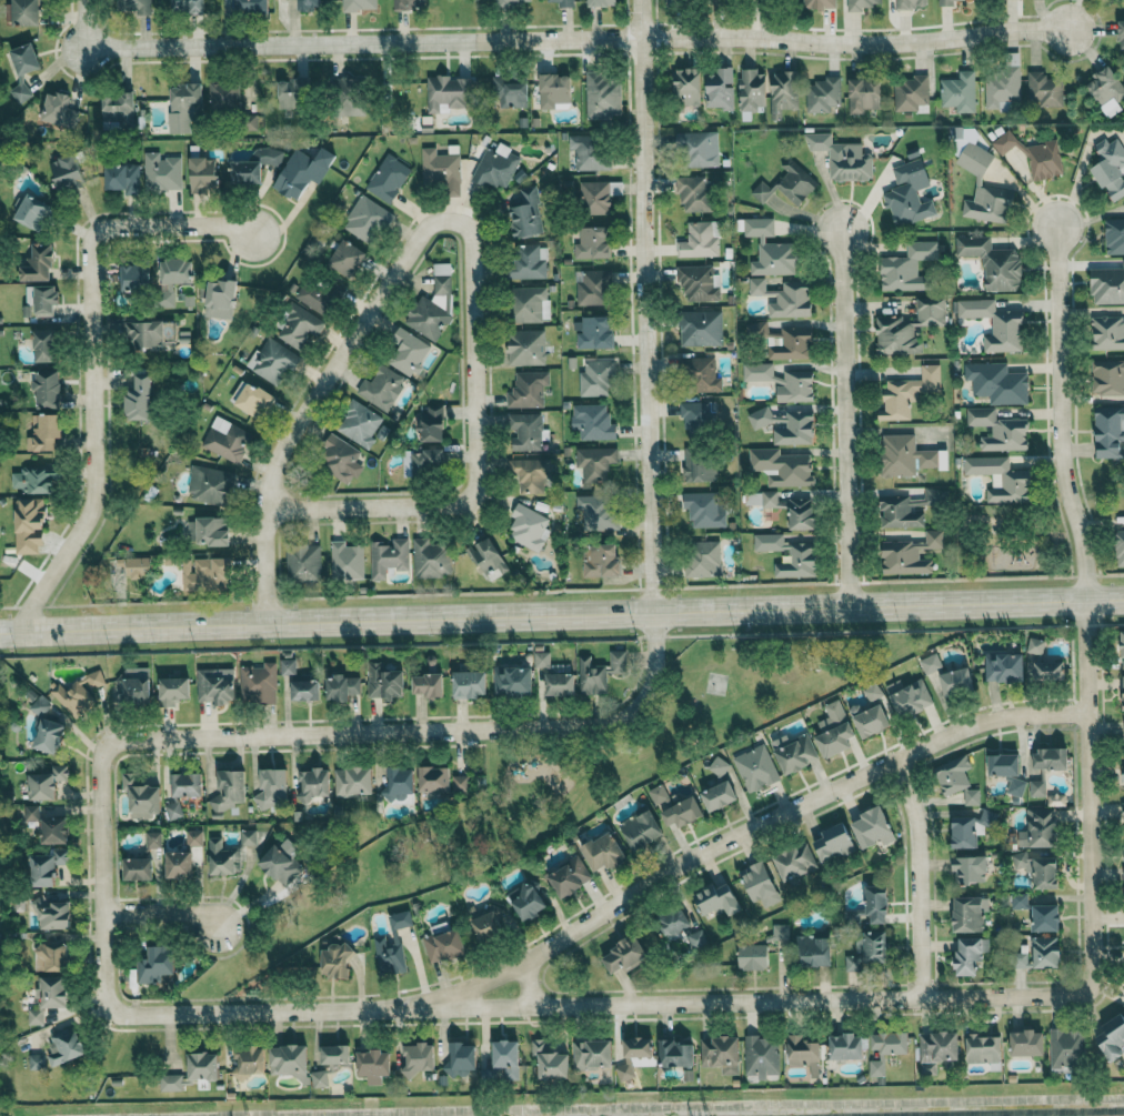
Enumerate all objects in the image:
building: (512, 2)
building: (602, 2)
building: (947, 2)
building: (410, 3)
building: (564, 3)
building: (911, 3)
building: (309, 4)
building: (359, 4)
building: (819, 4)
building: (188, 6)
building: (139, 7)
building: (252, 7)
building: (24, 12)
road: (83, 23)
building: (1121, 36)
road: (576, 39)
building: (24, 58)
building: (686, 86)
building: (1002, 87)
building: (720, 88)
building: (1043, 89)
building: (555, 90)
building: (752, 90)
building: (20, 91)
building: (957, 91)
building: (448, 92)
building: (509, 92)
building: (783, 92)
building: (911, 93)
building: (225, 94)
building: (349, 94)
building: (823, 94)
building: (863, 94)
building: (602, 95)
building: (183, 104)
building: (59, 110)
building: (118, 110)
building: (699, 149)
building: (591, 152)
building: (1033, 155)
building: (843, 157)
building: (254, 164)
building: (496, 167)
building: (1110, 167)
building: (442, 168)
building: (67, 171)
building: (302, 171)
building: (161, 172)
building: (203, 173)
building: (122, 175)
building: (388, 178)
building: (789, 184)
building: (983, 187)
building: (692, 192)
building: (909, 193)
building: (594, 197)
building: (31, 210)
building: (525, 212)
building: (367, 218)
building: (1115, 235)
building: (700, 239)
building: (592, 241)
building: (770, 249)
building: (347, 257)
building: (526, 261)
building: (993, 262)
building: (38, 263)
building: (906, 265)
building: (177, 270)
building: (132, 275)
building: (698, 282)
building: (1107, 284)
building: (590, 286)
building: (221, 291)
building: (318, 293)
building: (784, 296)
building: (42, 298)
building: (433, 302)
building: (528, 303)
road: (646, 308)
building: (995, 324)
building: (299, 325)
building: (909, 326)
building: (701, 328)
building: (759, 328)
building: (593, 331)
building: (1107, 332)
building: (144, 333)
building: (790, 343)
building: (44, 344)
building: (525, 346)
building: (407, 351)
building: (272, 360)
road: (90, 361)
building: (757, 371)
building: (701, 373)
building: (595, 376)
building: (1110, 380)
building: (997, 382)
building: (795, 386)
building: (48, 388)
building: (381, 388)
building: (528, 389)
building: (907, 392)
building: (140, 399)
building: (254, 400)
road: (313, 400)
building: (696, 413)
road: (1060, 414)
building: (763, 418)
road: (844, 420)
building: (593, 421)
building: (359, 423)
building: (432, 423)
building: (795, 429)
building: (998, 429)
building: (44, 431)
building: (525, 431)
building: (1108, 431)
building: (227, 439)
building: (904, 455)
road: (475, 458)
building: (340, 460)
building: (425, 461)
building: (594, 464)
building: (698, 465)
building: (782, 466)
building: (529, 474)
building: (1001, 479)
building: (32, 480)
building: (210, 484)
building: (761, 499)
building: (703, 510)
building: (901, 511)
building: (596, 512)
building: (801, 512)
building: (29, 526)
building: (529, 526)
building: (208, 530)
building: (1120, 546)
building: (911, 554)
building: (803, 555)
building: (389, 556)
building: (488, 556)
building: (431, 557)
building: (600, 559)
building: (703, 559)
building: (347, 560)
building: (303, 562)
building: (138, 566)
building: (205, 573)
road: (562, 617)
building: (1036, 647)
building: (1123, 649)
building: (542, 660)
building: (931, 663)
building: (288, 666)
building: (1004, 666)
building: (1050, 670)
building: (600, 673)
building: (512, 680)
building: (1123, 680)
building: (956, 681)
building: (384, 682)
building: (258, 683)
building: (469, 683)
building: (560, 683)
building: (136, 684)
building: (428, 684)
building: (215, 685)
building: (342, 686)
building: (173, 690)
building: (305, 690)
building: (874, 693)
building: (78, 695)
building: (909, 696)
building: (40, 705)
building: (870, 718)
road: (420, 730)
building: (834, 730)
building: (48, 735)
building: (794, 752)
building: (1051, 757)
building: (1004, 764)
building: (719, 765)
building: (756, 767)
building: (1123, 773)
building: (434, 778)
building: (957, 780)
building: (353, 781)
building: (46, 782)
building: (187, 784)
building: (313, 784)
building: (401, 784)
building: (459, 784)
building: (1016, 786)
building: (1037, 787)
building: (272, 788)
building: (229, 790)
road: (1087, 794)
building: (719, 795)
building: (141, 797)
building: (675, 807)
building: (1123, 810)
building: (173, 811)
building: (31, 813)
building: (873, 827)
building: (641, 828)
building: (1038, 828)
building: (53, 830)
road: (744, 832)
building: (965, 832)
building: (194, 837)
building: (248, 837)
building: (153, 839)
building: (834, 843)
building: (603, 852)
building: (222, 857)
building: (795, 861)
building: (179, 864)
building: (279, 864)
building: (47, 866)
building: (138, 868)
building: (971, 868)
building: (1038, 868)
road: (917, 875)
building: (570, 876)
road: (100, 877)
building: (760, 883)
building: (528, 899)
building: (717, 899)
building: (1020, 901)
building: (873, 905)
road: (161, 909)
building: (52, 913)
building: (969, 914)
building: (1045, 917)
building: (488, 919)
building: (680, 926)
building: (781, 932)
building: (443, 943)
building: (392, 944)
building: (875, 946)
building: (814, 951)
building: (1038, 953)
building: (970, 955)
building: (51, 956)
building: (754, 956)
building: (622, 957)
building: (338, 959)
building: (155, 964)
road: (526, 985)
building: (48, 998)
road: (596, 1003)
building: (1111, 1037)
building: (1027, 1043)
building: (66, 1046)
building: (846, 1046)
building: (639, 1047)
building: (1066, 1047)
building: (887, 1048)
building: (984, 1048)
building: (937, 1049)
building: (676, 1053)
building: (335, 1054)
building: (593, 1054)
building: (721, 1054)
building: (804, 1054)
building: (419, 1057)
building: (762, 1057)
building: (250, 1058)
building: (460, 1058)
building: (506, 1058)
building: (288, 1059)
building: (37, 1062)
building: (550, 1062)
building: (373, 1065)
building: (202, 1066)
building: (624, 1072)
building: (319, 1078)
building: (171, 1082)

